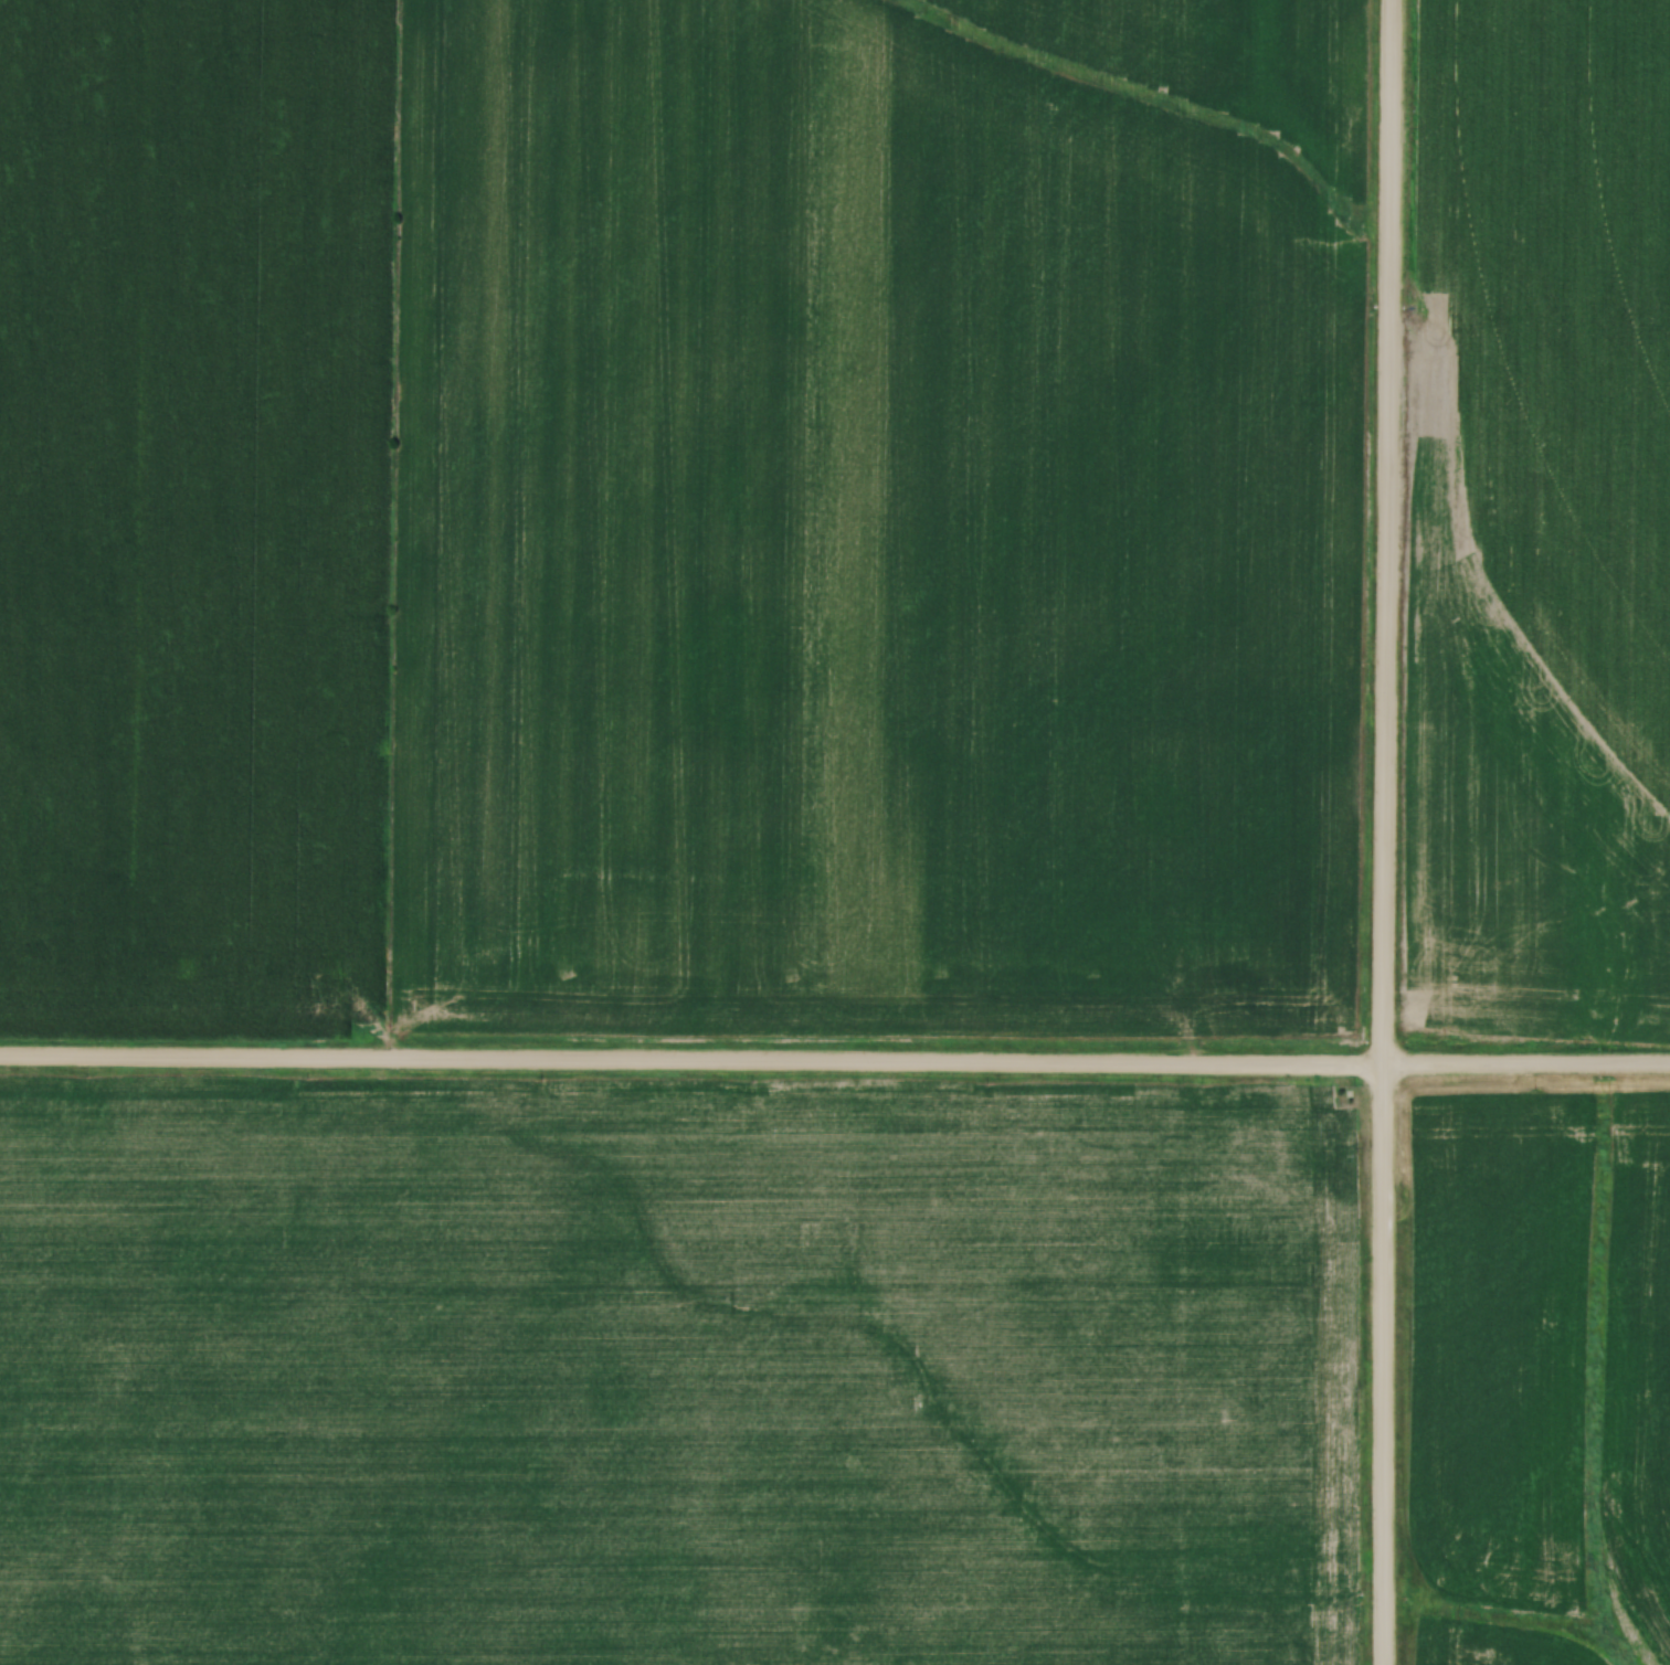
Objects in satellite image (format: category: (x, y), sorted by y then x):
road: (1384, 831)
road: (834, 1067)

